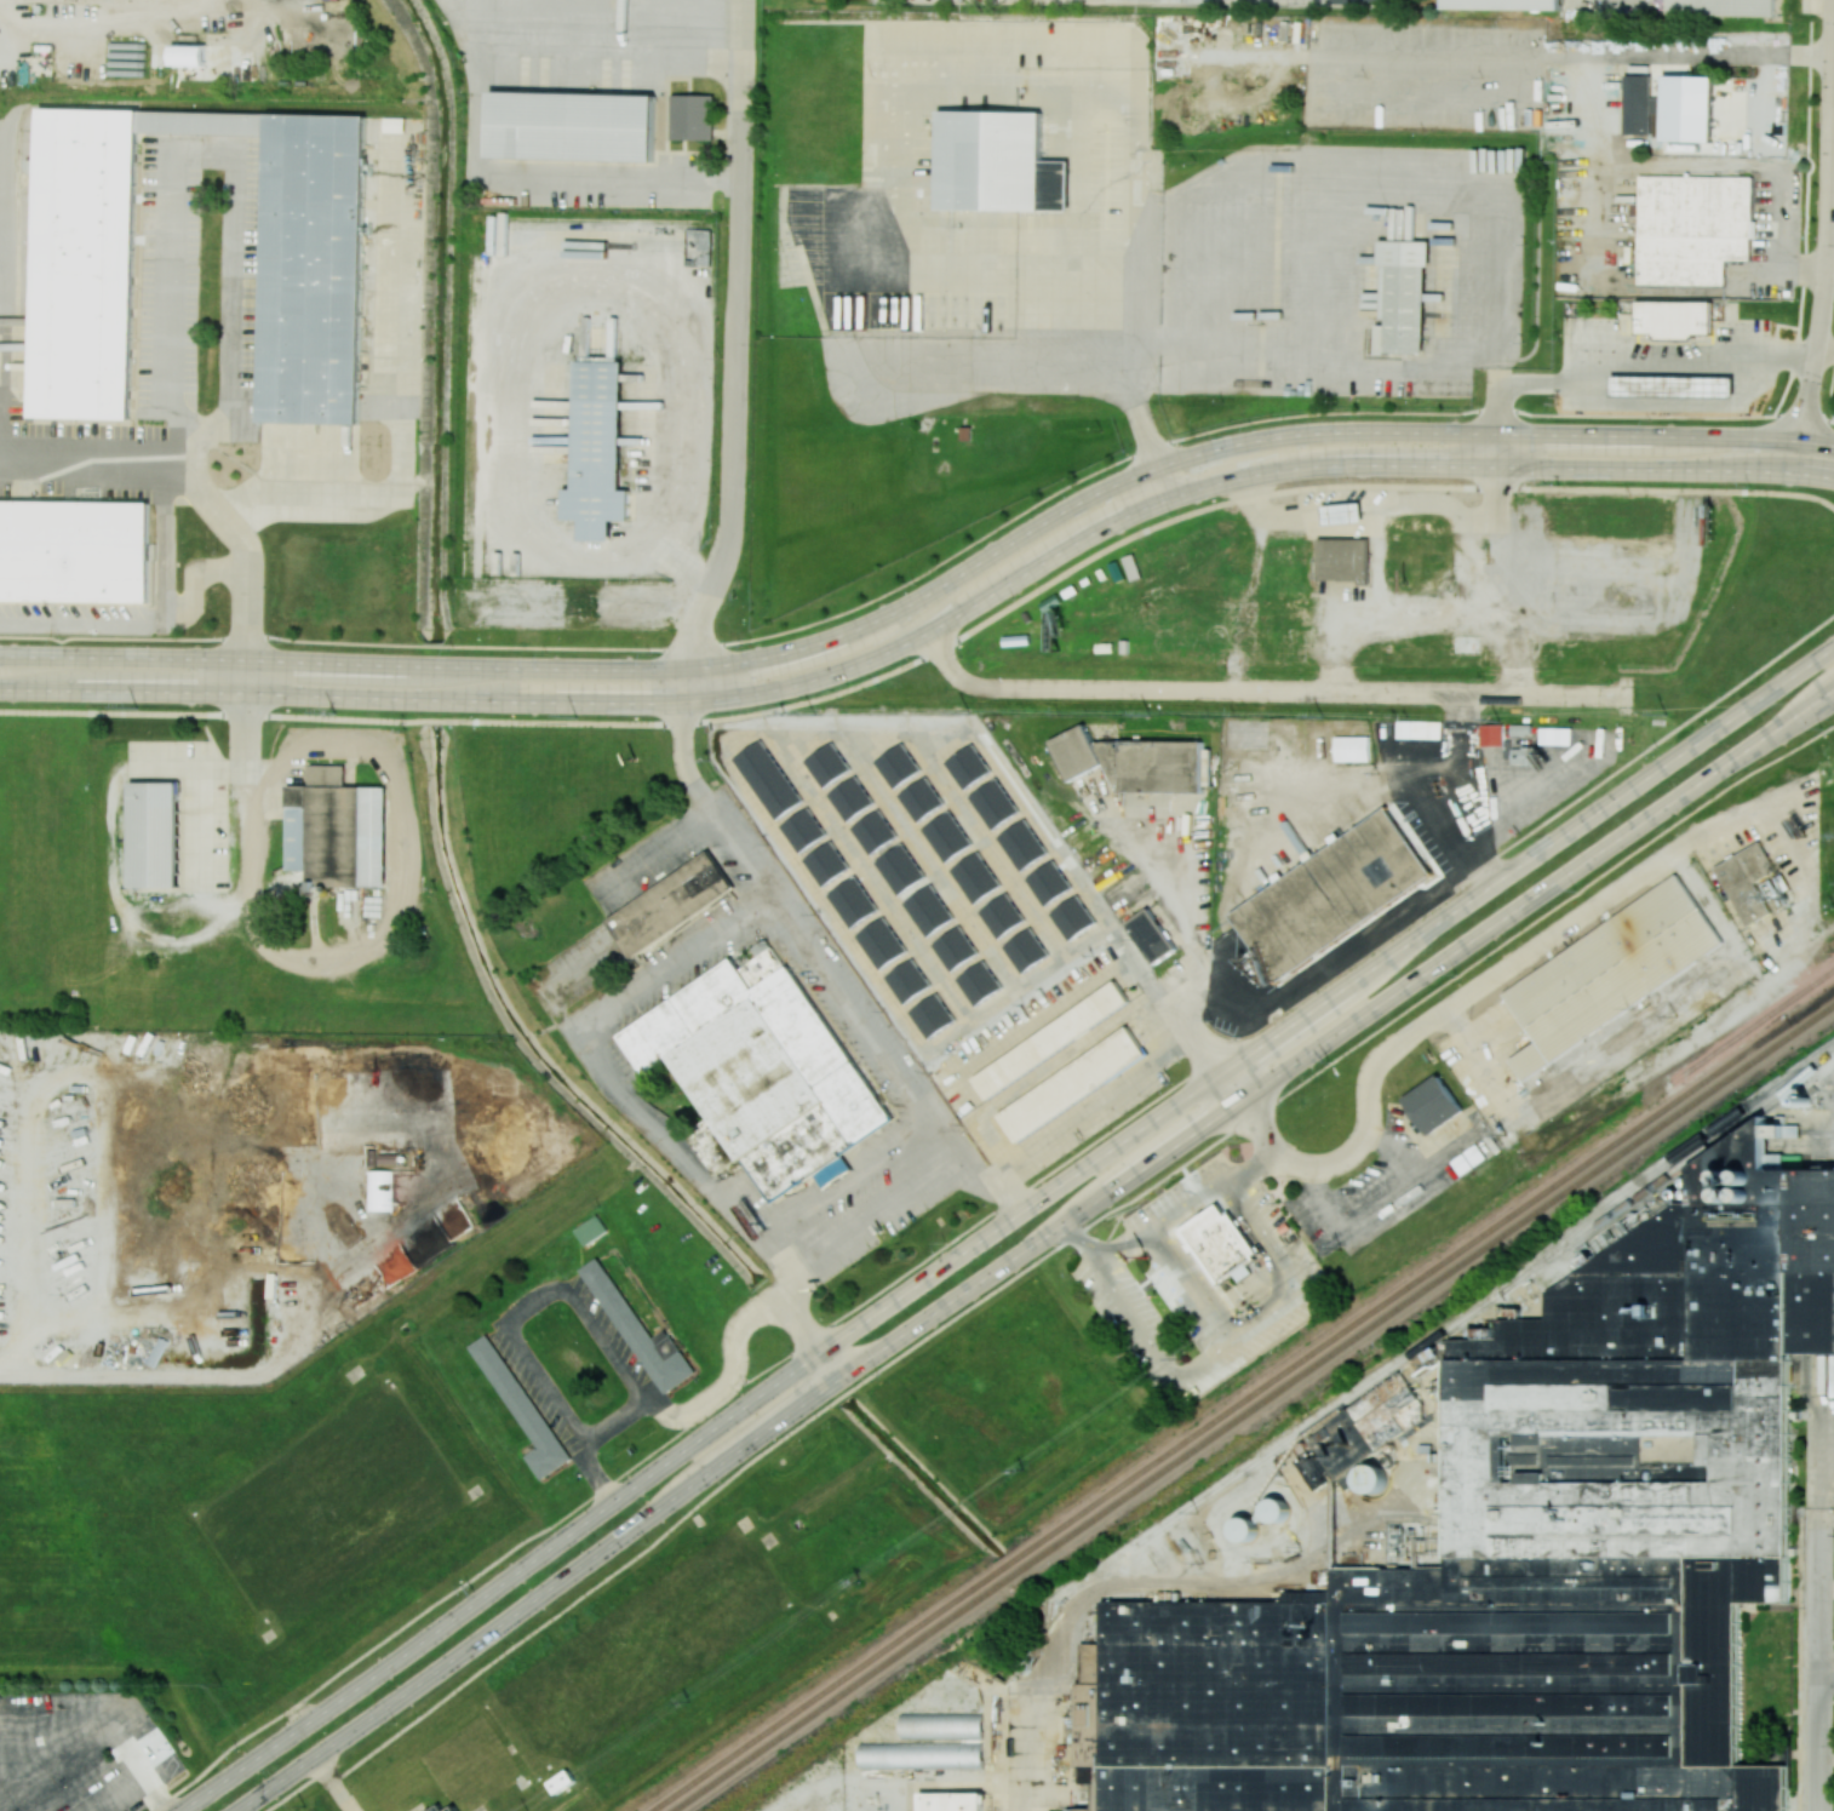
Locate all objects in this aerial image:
building: (1505, 5)
building: (1724, 7)
road: (103, 17)
road: (607, 27)
building: (189, 55)
building: (1637, 104)
building: (1687, 109)
building: (694, 118)
building: (575, 127)
road: (1599, 137)
building: (992, 161)
road: (535, 177)
road: (1386, 185)
road: (905, 210)
road: (1830, 220)
building: (1693, 228)
building: (91, 263)
building: (319, 271)
building: (1402, 297)
road: (535, 298)
road: (1089, 302)
building: (1674, 319)
road: (738, 355)
road: (1823, 359)
road: (1635, 366)
building: (1674, 390)
road: (1497, 448)
building: (597, 451)
road: (1369, 485)
road: (1380, 498)
road: (314, 500)
building: (1340, 512)
road: (166, 544)
building: (78, 557)
road: (247, 557)
building: (1342, 560)
road: (1492, 561)
road: (927, 569)
road: (928, 591)
road: (1431, 615)
road: (930, 630)
building: (1466, 644)
road: (1263, 692)
road: (475, 723)
building: (1492, 735)
road: (1657, 740)
building: (1352, 747)
building: (1133, 761)
building: (827, 764)
building: (898, 766)
building: (968, 766)
road: (219, 772)
building: (768, 779)
building: (850, 798)
building: (921, 798)
building: (993, 803)
road: (1452, 829)
building: (337, 830)
building: (803, 830)
building: (873, 831)
building: (155, 835)
building: (946, 836)
building: (1021, 844)
building: (826, 862)
building: (899, 869)
building: (975, 877)
building: (1746, 882)
building: (1048, 883)
building: (1330, 894)
building: (853, 901)
building: (671, 904)
building: (928, 910)
building: (1001, 915)
building: (1072, 917)
road: (390, 925)
building: (1150, 935)
building: (881, 942)
building: (955, 947)
building: (1025, 950)
road: (831, 965)
building: (1607, 976)
building: (907, 981)
building: (978, 982)
railway: (1812, 1004)
building: (932, 1015)
railway: (1754, 1025)
building: (1051, 1041)
building: (762, 1073)
road: (615, 1081)
building: (1073, 1085)
building: (1433, 1104)
road: (1093, 1110)
road: (1248, 1117)
railway: (1680, 1164)
building: (380, 1190)
road: (1169, 1220)
road: (1004, 1227)
road: (1070, 1237)
building: (1228, 1244)
road: (1033, 1248)
road: (1190, 1289)
road: (795, 1297)
railway: (1488, 1299)
road: (532, 1305)
building: (640, 1333)
road: (1236, 1340)
road: (819, 1342)
road: (127, 1375)
railway: (1242, 1400)
building: (521, 1406)
railway: (1253, 1408)
road: (609, 1420)
building: (1362, 1432)
road: (1821, 1445)
road: (594, 1474)
building: (1372, 1479)
building: (1274, 1509)
storage tank: (1274, 1509)
road: (1827, 1517)
building: (1243, 1529)
storage tank: (1243, 1529)
road: (373, 1645)
road: (1821, 1664)
road: (1827, 1673)
building: (941, 1724)
road: (1019, 1753)
building: (921, 1754)
road: (81, 1759)
road: (137, 1782)
road: (331, 1784)
road: (293, 1792)
building: (951, 1801)
building: (437, 1807)
building: (453, 1809)

